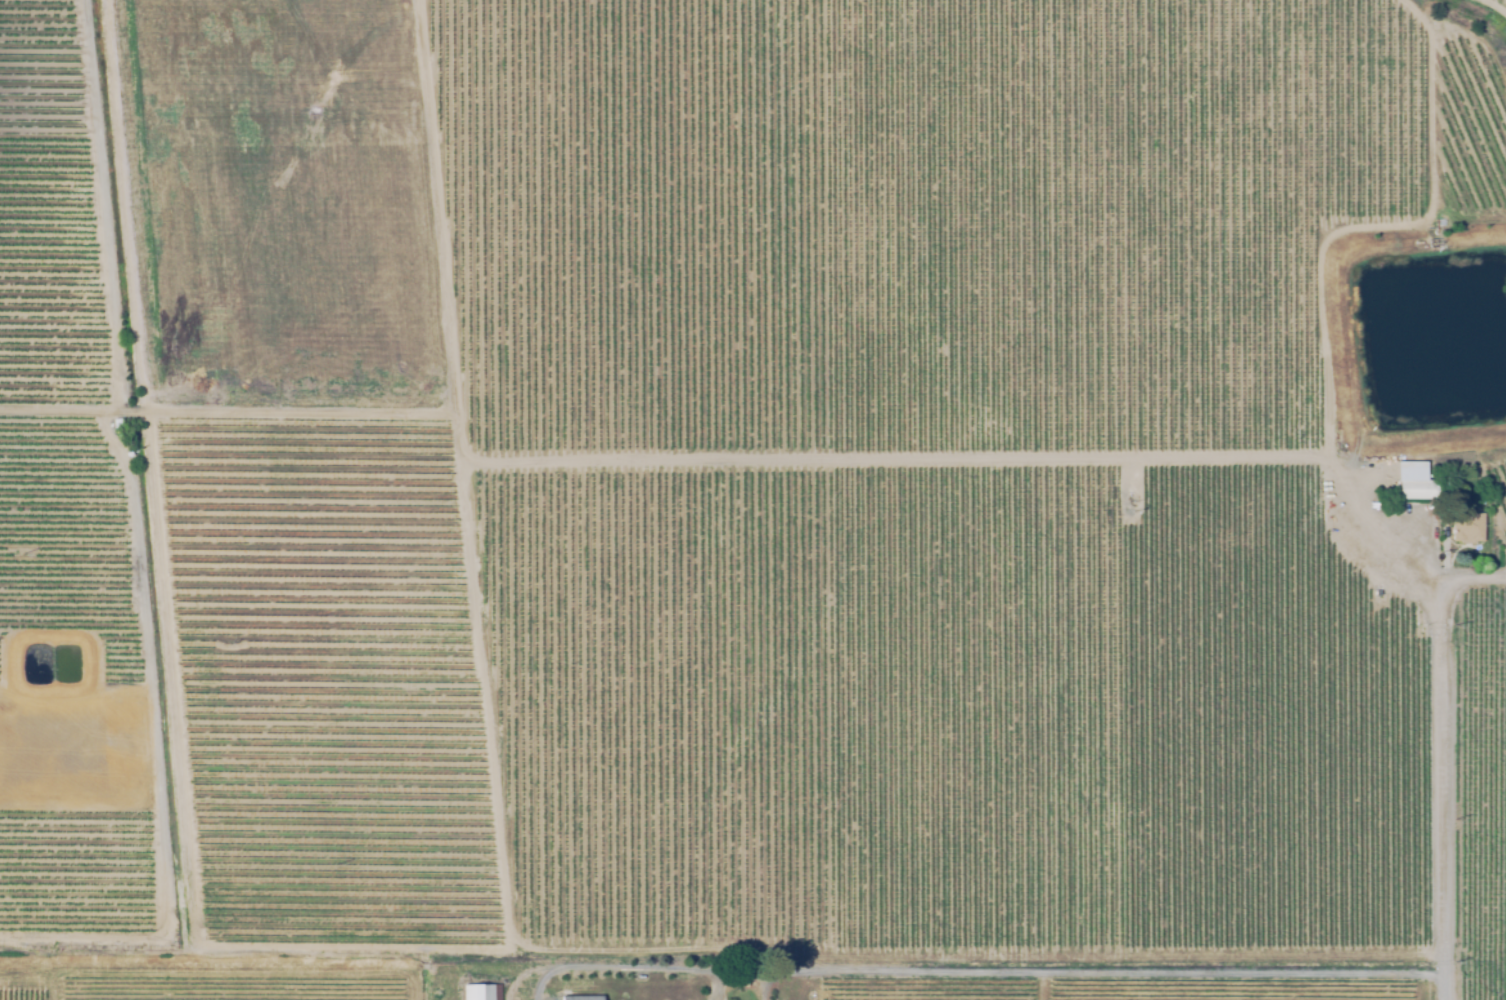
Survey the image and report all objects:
building: (1412, 483)
building: (1465, 528)
road: (1473, 582)
road: (1437, 793)
road: (486, 966)
road: (555, 968)
road: (997, 972)
building: (741, 983)
road: (543, 984)
building: (481, 992)
building: (523, 994)
building: (581, 998)

